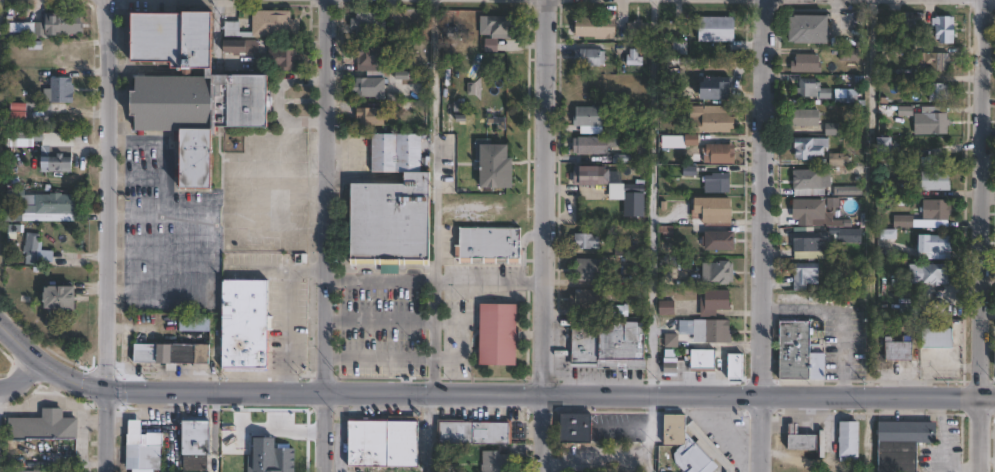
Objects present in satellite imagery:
building: (270, 22)
building: (499, 23)
building: (374, 25)
building: (51, 26)
building: (598, 26)
building: (718, 28)
building: (808, 28)
building: (640, 29)
building: (942, 29)
building: (172, 38)
building: (242, 46)
building: (678, 46)
building: (847, 55)
building: (591, 57)
building: (284, 58)
building: (934, 60)
building: (804, 63)
building: (372, 73)
building: (718, 87)
building: (810, 89)
building: (60, 90)
building: (934, 91)
building: (845, 94)
building: (16, 109)
building: (197, 113)
building: (371, 116)
building: (802, 118)
building: (711, 119)
building: (591, 120)
building: (933, 121)
building: (888, 144)
building: (593, 145)
building: (808, 147)
road: (166, 148)
building: (720, 154)
building: (836, 159)
building: (60, 163)
building: (496, 164)
building: (593, 176)
building: (932, 181)
building: (808, 182)
building: (719, 183)
road: (227, 189)
building: (847, 190)
road: (652, 195)
road: (435, 196)
road: (986, 197)
building: (48, 204)
building: (392, 204)
building: (933, 209)
building: (715, 210)
building: (807, 210)
parking lot: (205, 217)
building: (901, 221)
building: (845, 223)
road: (548, 235)
building: (848, 235)
road: (109, 236)
road: (324, 236)
road: (762, 236)
building: (588, 241)
building: (721, 241)
building: (487, 244)
building: (806, 246)
building: (929, 246)
building: (33, 248)
building: (592, 269)
building: (722, 272)
building: (926, 273)
building: (801, 276)
road: (491, 283)
road: (196, 289)
building: (61, 297)
building: (587, 299)
building: (716, 302)
building: (668, 304)
building: (908, 309)
road: (835, 318)
building: (195, 324)
building: (243, 325)
building: (708, 330)
building: (497, 334)
building: (934, 338)
building: (669, 339)
road: (20, 343)
building: (610, 346)
building: (896, 351)
building: (173, 353)
building: (798, 353)
building: (994, 358)
building: (705, 360)
building: (669, 365)
building: (738, 366)
road: (21, 376)
traffic signals: (107, 389)
road: (510, 392)
road: (990, 395)
building: (296, 425)
building: (44, 426)
building: (574, 427)
building: (136, 431)
road: (431, 432)
building: (473, 432)
road: (867, 433)
road: (984, 433)
building: (198, 438)
building: (155, 440)
building: (798, 441)
building: (846, 441)
building: (899, 443)
building: (384, 444)
building: (683, 445)
building: (708, 446)
building: (493, 461)
road: (629, 464)
building: (33, 471)

